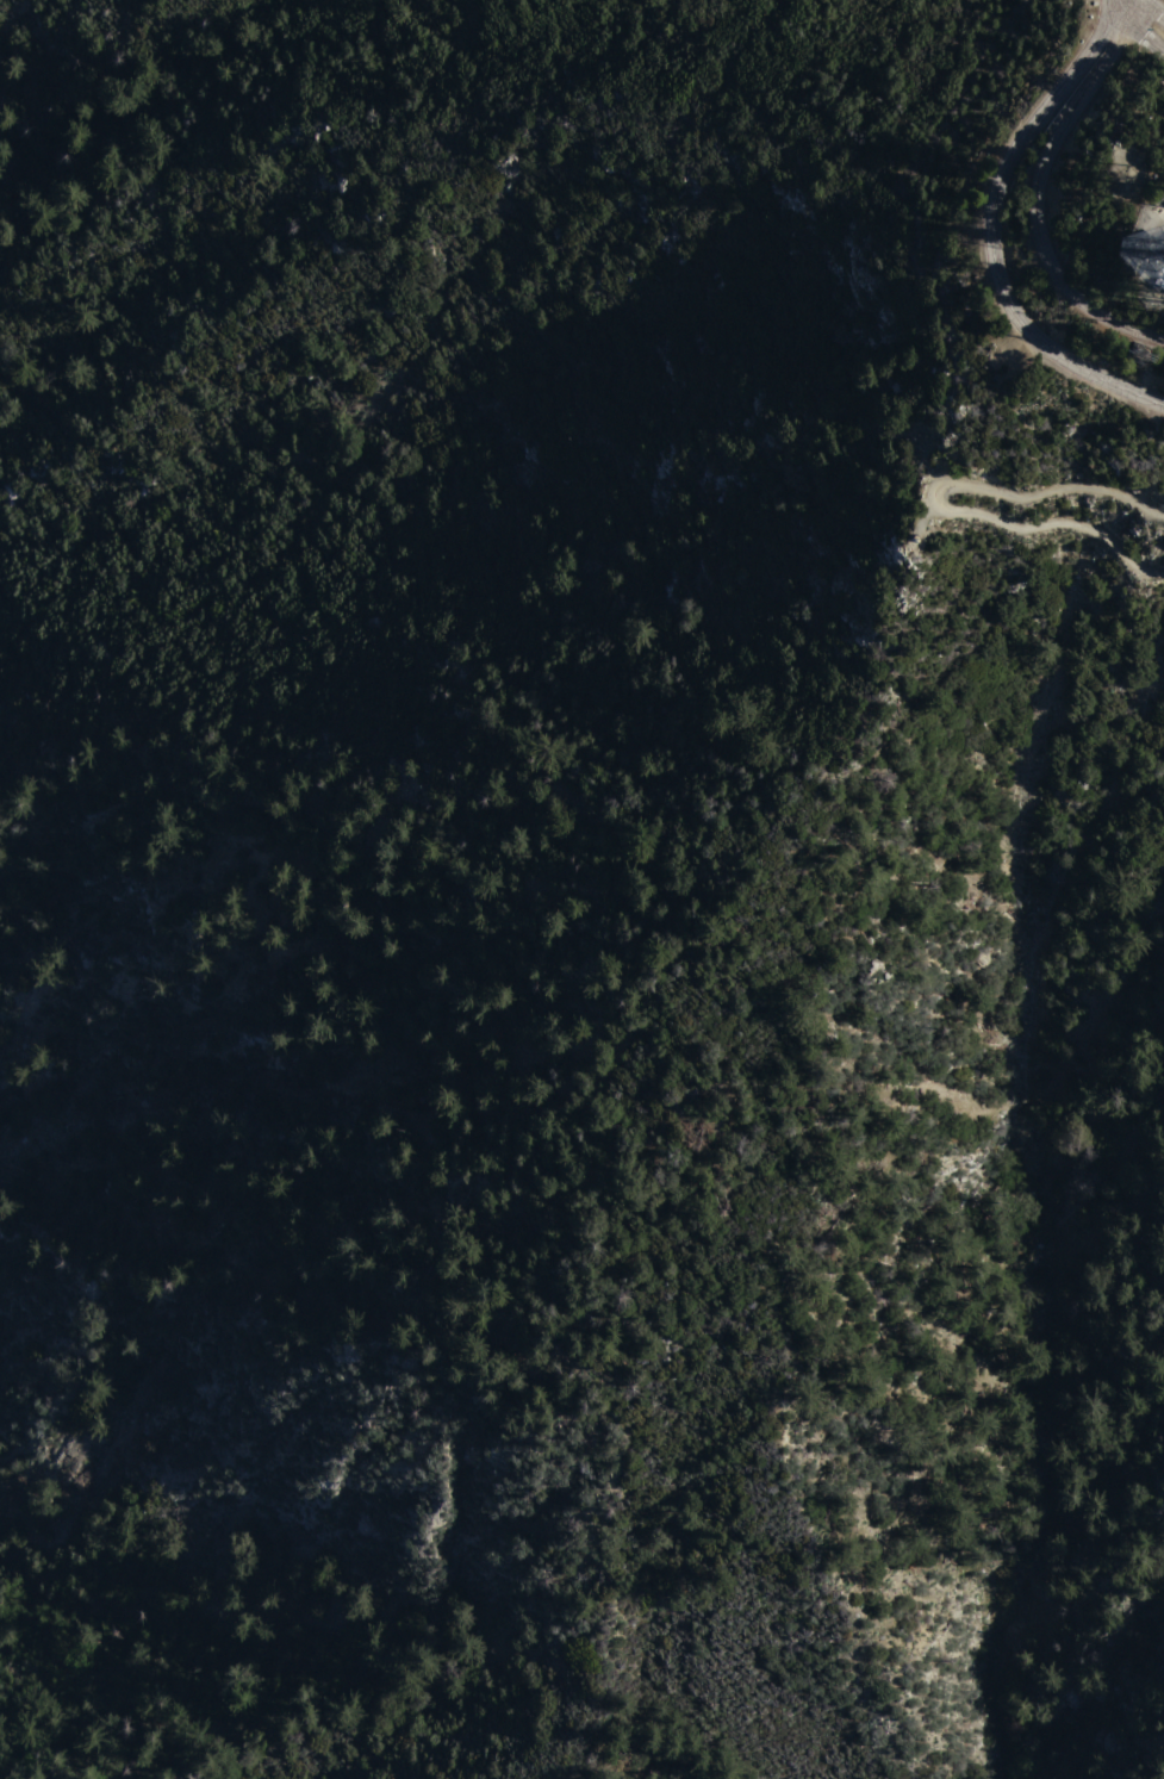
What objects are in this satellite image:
road: (1153, 6)
road: (1134, 30)
road: (1035, 205)
road: (991, 230)
building: (1159, 274)
road: (936, 502)

